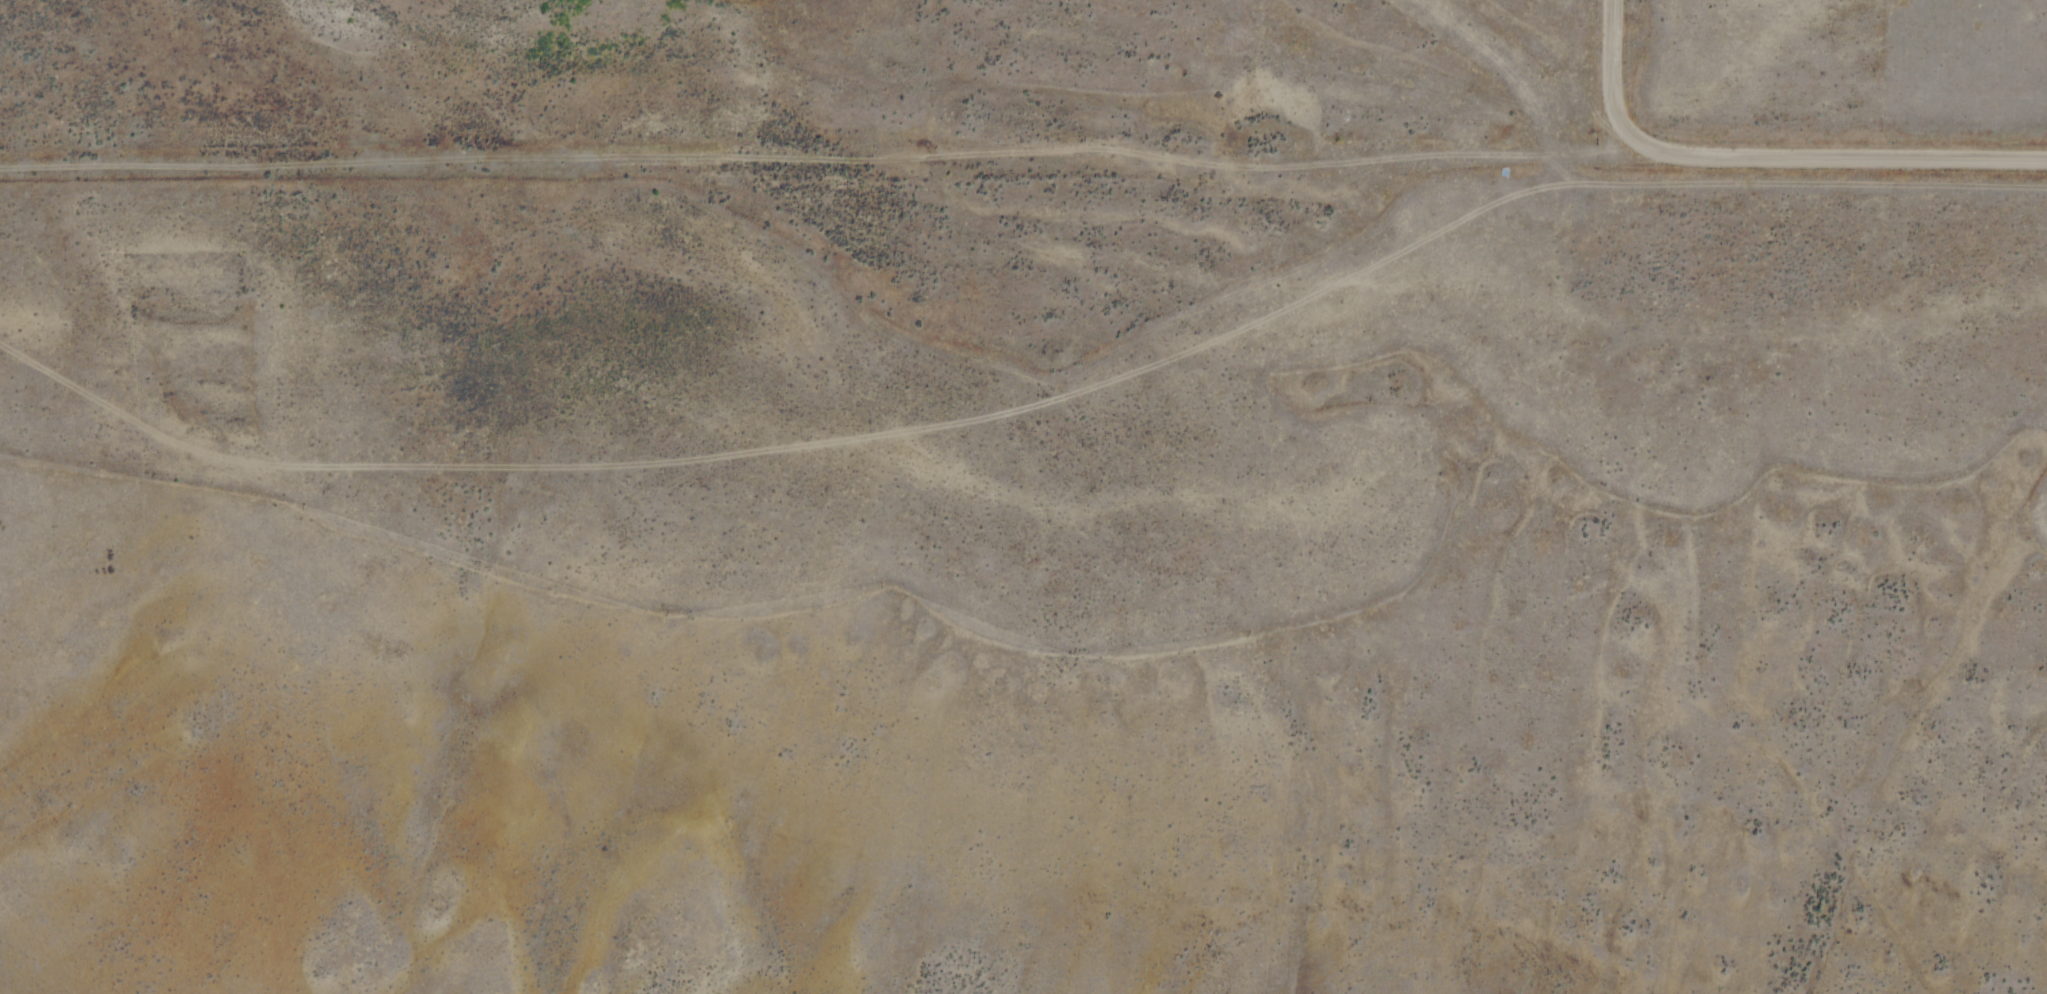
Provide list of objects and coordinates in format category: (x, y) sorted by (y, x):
road: (1768, 155)

